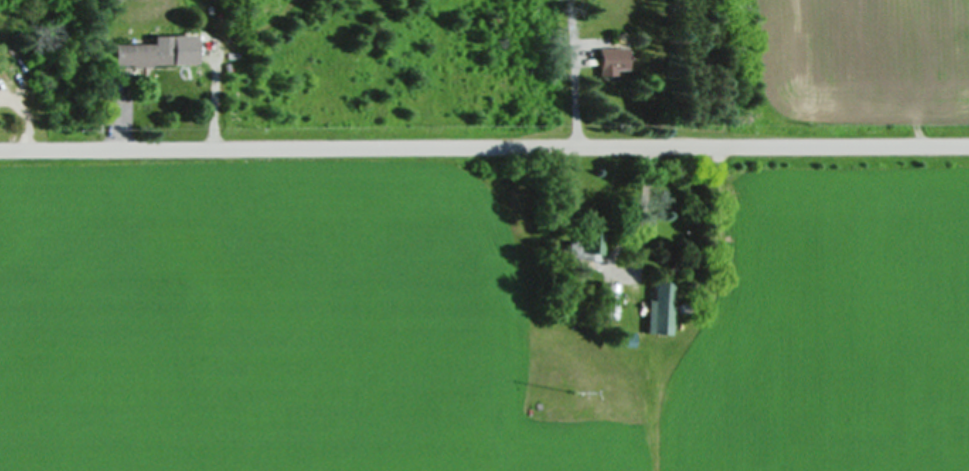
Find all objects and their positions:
building: (156, 52)
building: (612, 62)
road: (484, 147)
building: (585, 245)
building: (611, 301)
building: (659, 309)
building: (624, 339)

